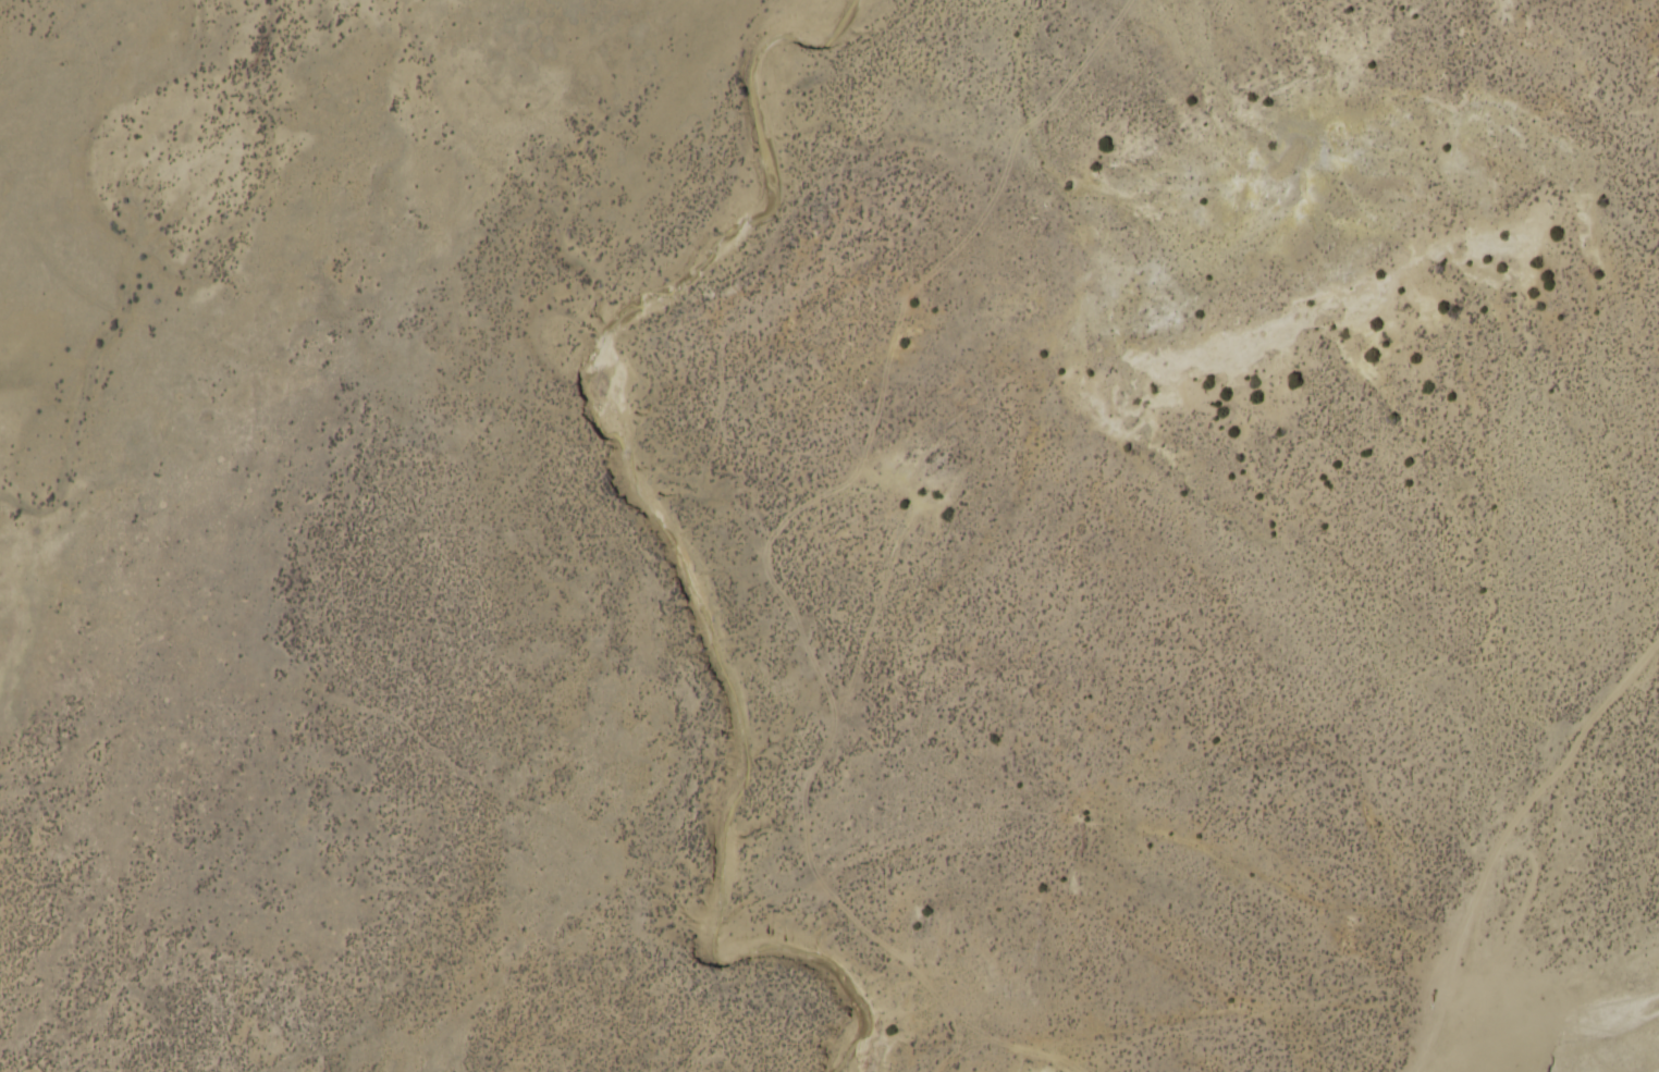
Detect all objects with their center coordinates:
road: (531, 784)
road: (1573, 1046)

